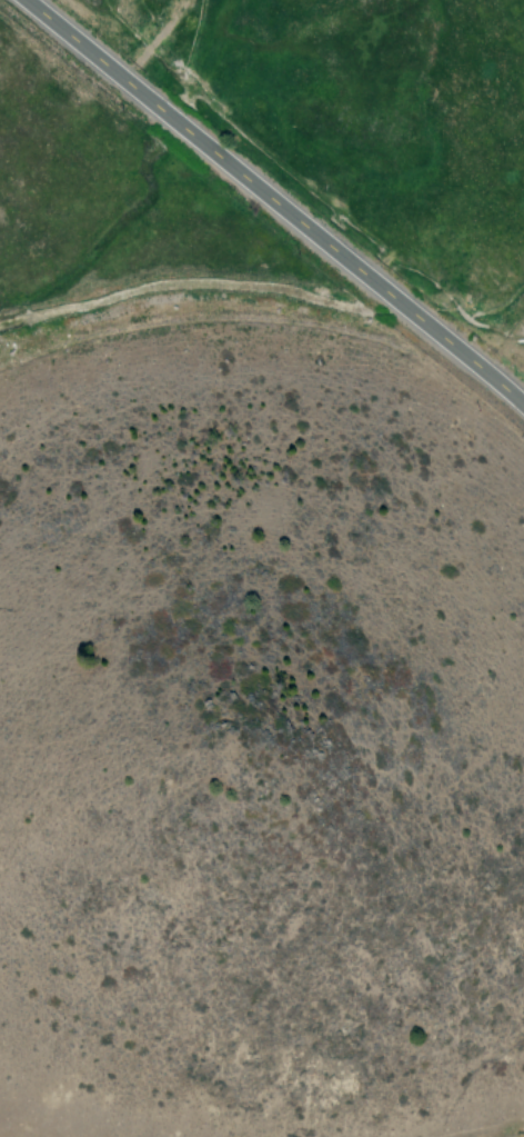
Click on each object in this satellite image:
road: (271, 207)

